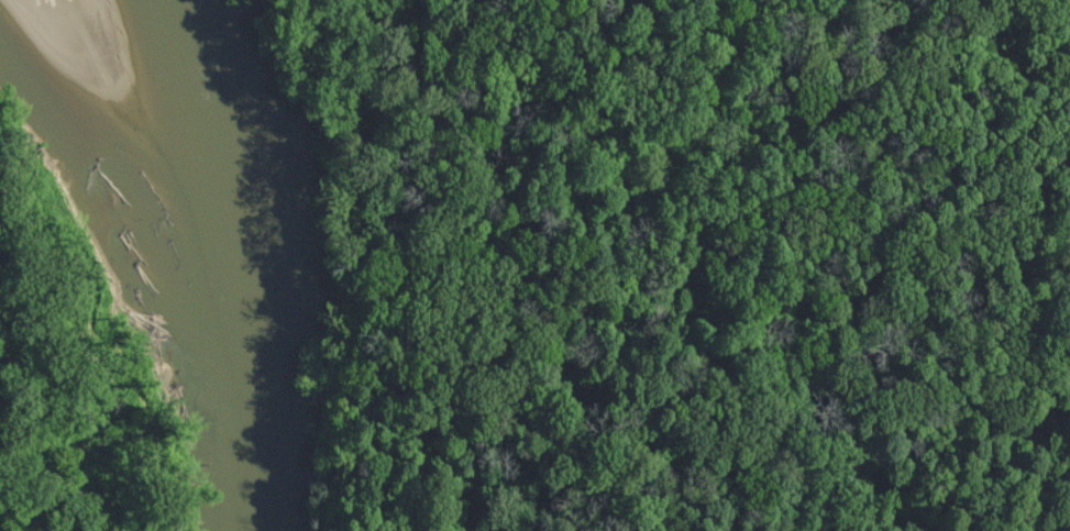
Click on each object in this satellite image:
river: (273, 252)

